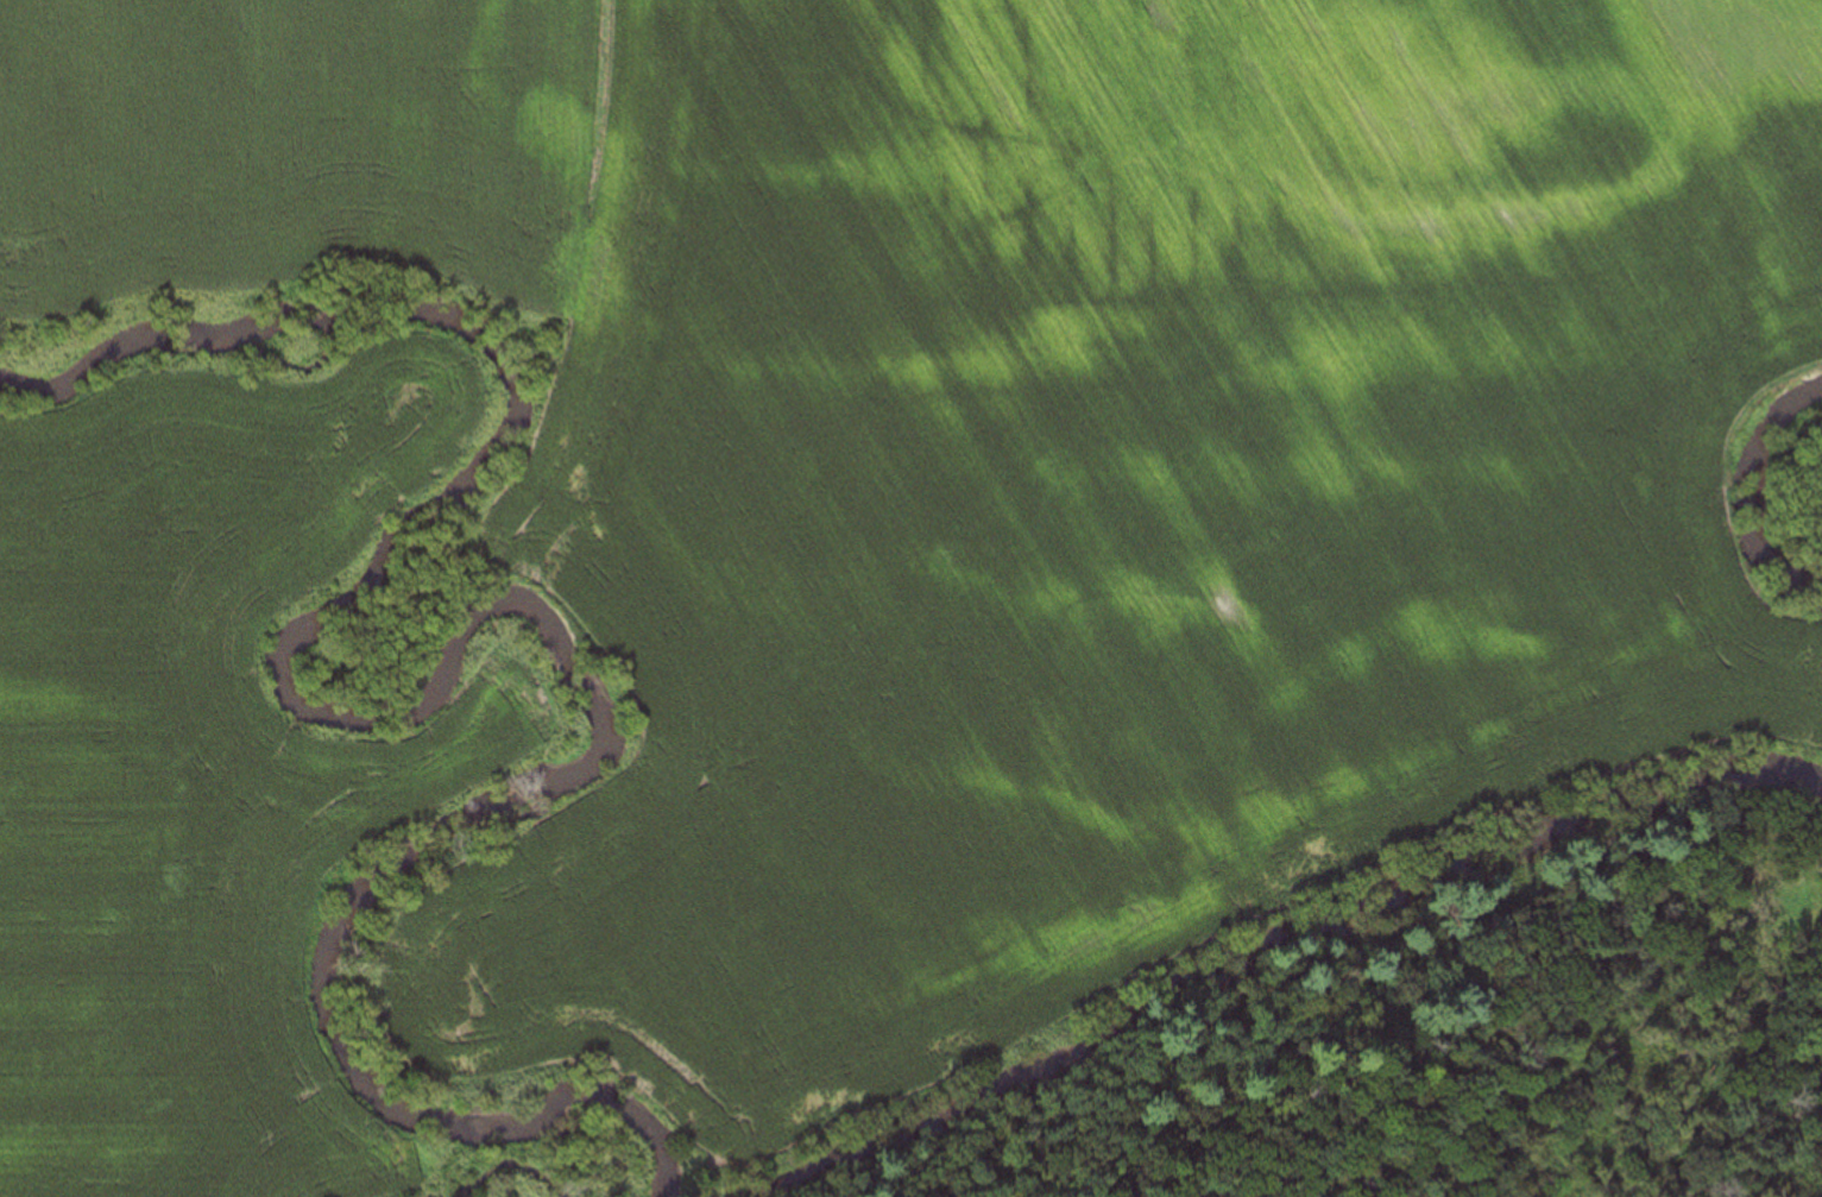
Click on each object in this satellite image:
river: (1790, 493)
river: (445, 670)
river: (1266, 947)

